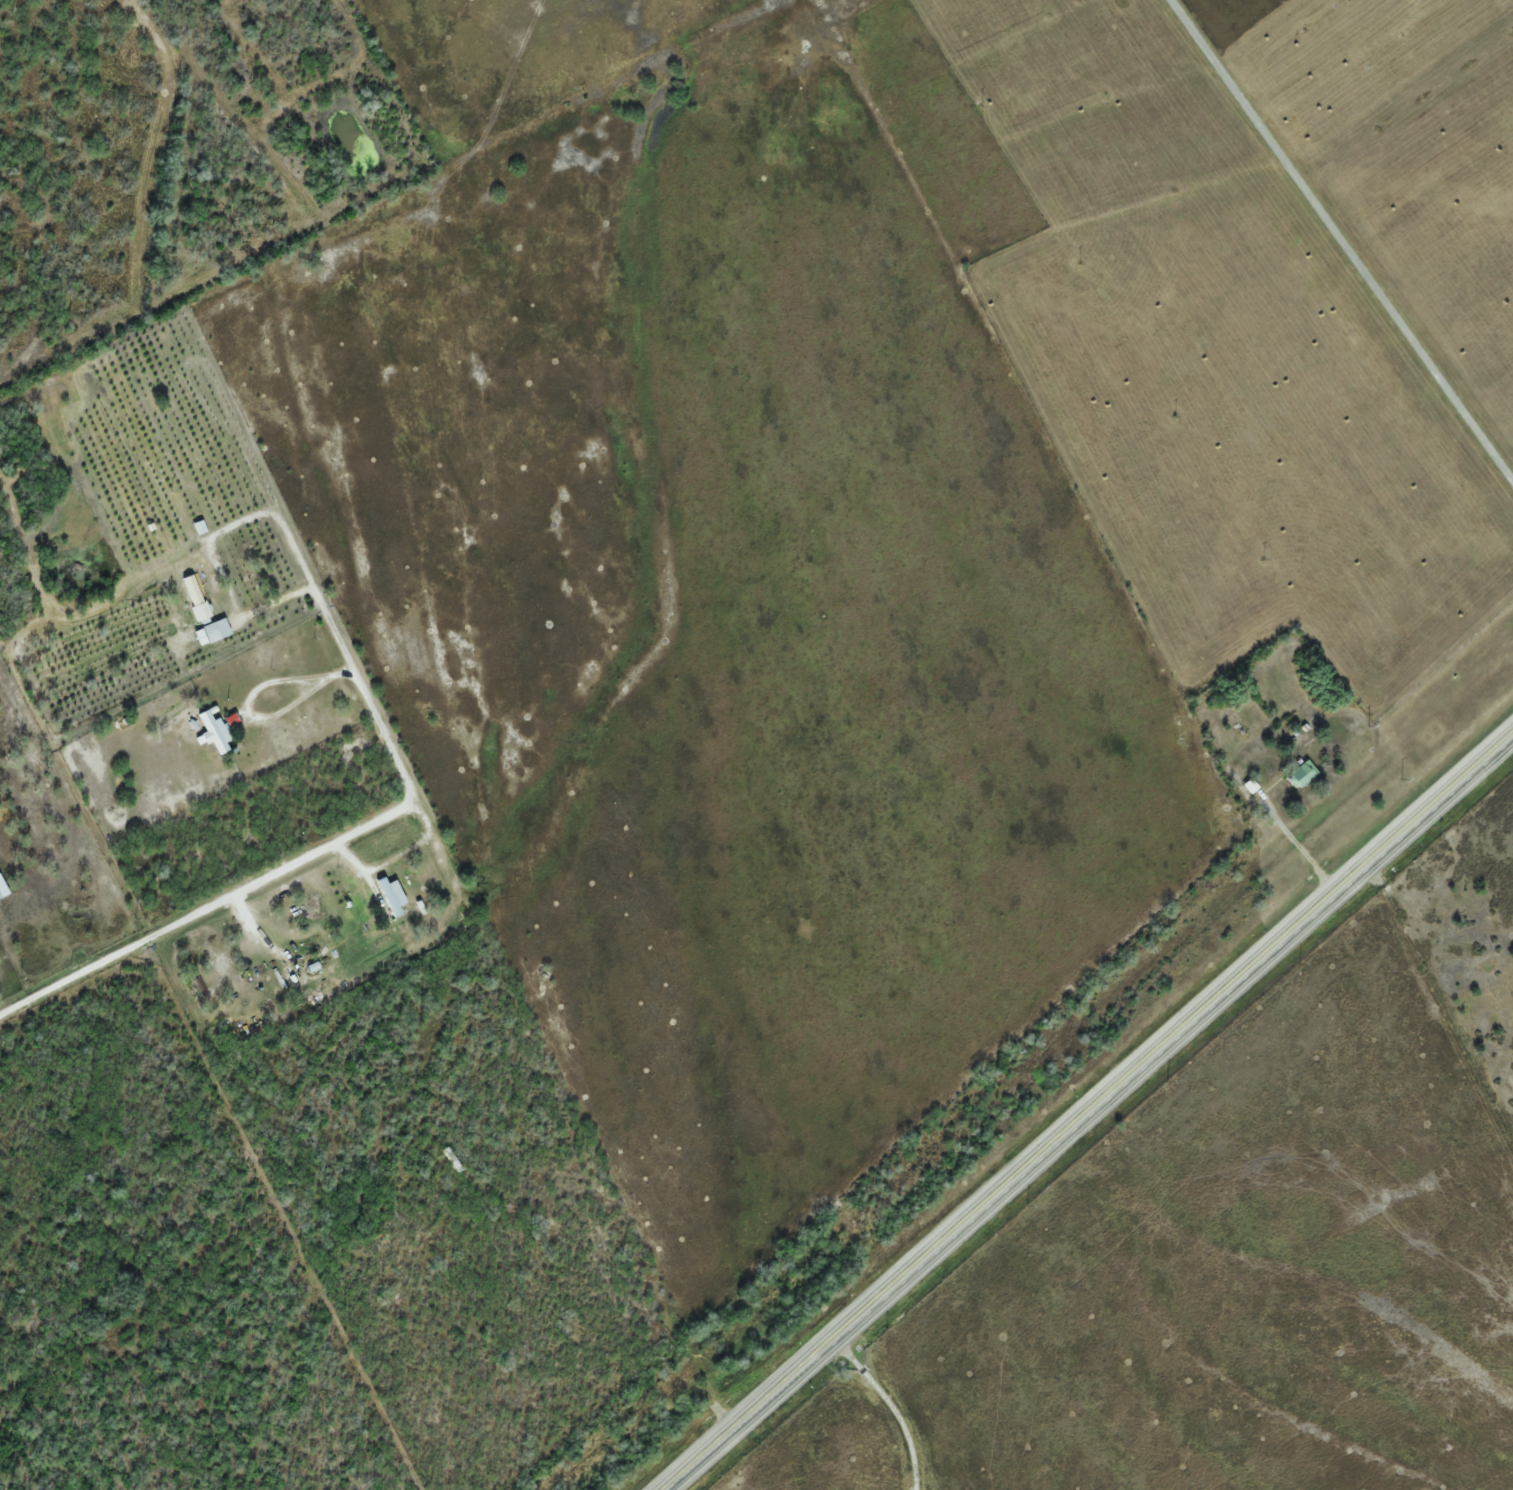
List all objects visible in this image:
road: (1340, 242)
road: (213, 536)
building: (202, 612)
building: (217, 630)
building: (1302, 775)
road: (298, 862)
building: (393, 895)
building: (0, 899)
road: (1087, 1110)
road: (889, 1406)

